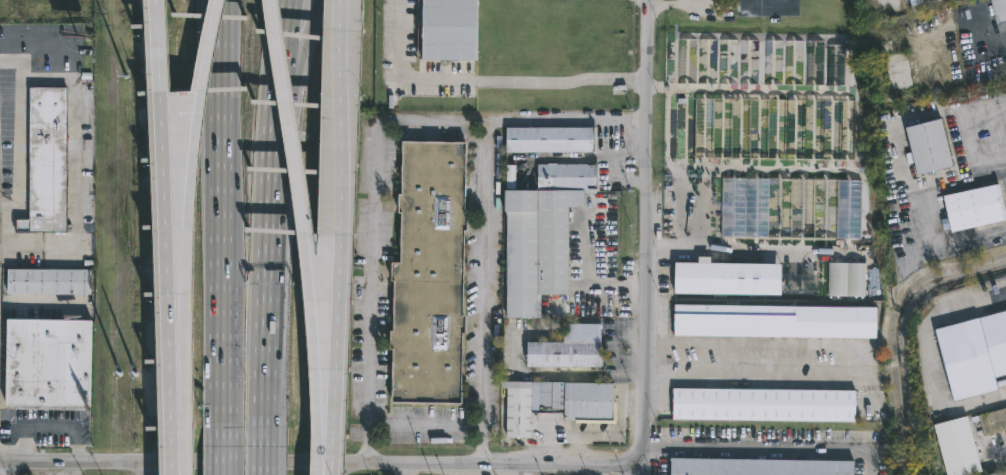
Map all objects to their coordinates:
building: (923, 4)
building: (991, 11)
building: (450, 31)
road: (283, 37)
road: (296, 37)
building: (980, 57)
building: (718, 61)
building: (803, 64)
building: (893, 66)
power tower: (125, 78)
road: (483, 83)
road: (222, 125)
building: (766, 128)
road: (19, 134)
road: (981, 134)
building: (551, 139)
building: (926, 145)
road: (377, 159)
building: (48, 161)
road: (614, 161)
road: (75, 173)
building: (565, 178)
road: (193, 184)
road: (163, 185)
building: (972, 205)
building: (792, 208)
road: (309, 236)
road: (349, 237)
road: (645, 237)
building: (537, 247)
road: (743, 247)
road: (266, 249)
building: (431, 274)
building: (720, 277)
building: (845, 279)
road: (587, 280)
building: (49, 281)
road: (483, 292)
building: (777, 320)
road: (221, 338)
building: (569, 348)
road: (754, 348)
building: (975, 354)
road: (929, 358)
building: (49, 362)
road: (557, 375)
road: (755, 378)
power tower: (126, 390)
building: (555, 403)
building: (761, 404)
building: (993, 421)
road: (176, 423)
road: (49, 425)
road: (425, 426)
road: (770, 448)
road: (222, 450)
road: (260, 450)
road: (982, 451)
road: (321, 463)
building: (761, 467)
road: (159, 469)
road: (341, 469)
road: (401, 469)
building: (997, 474)

